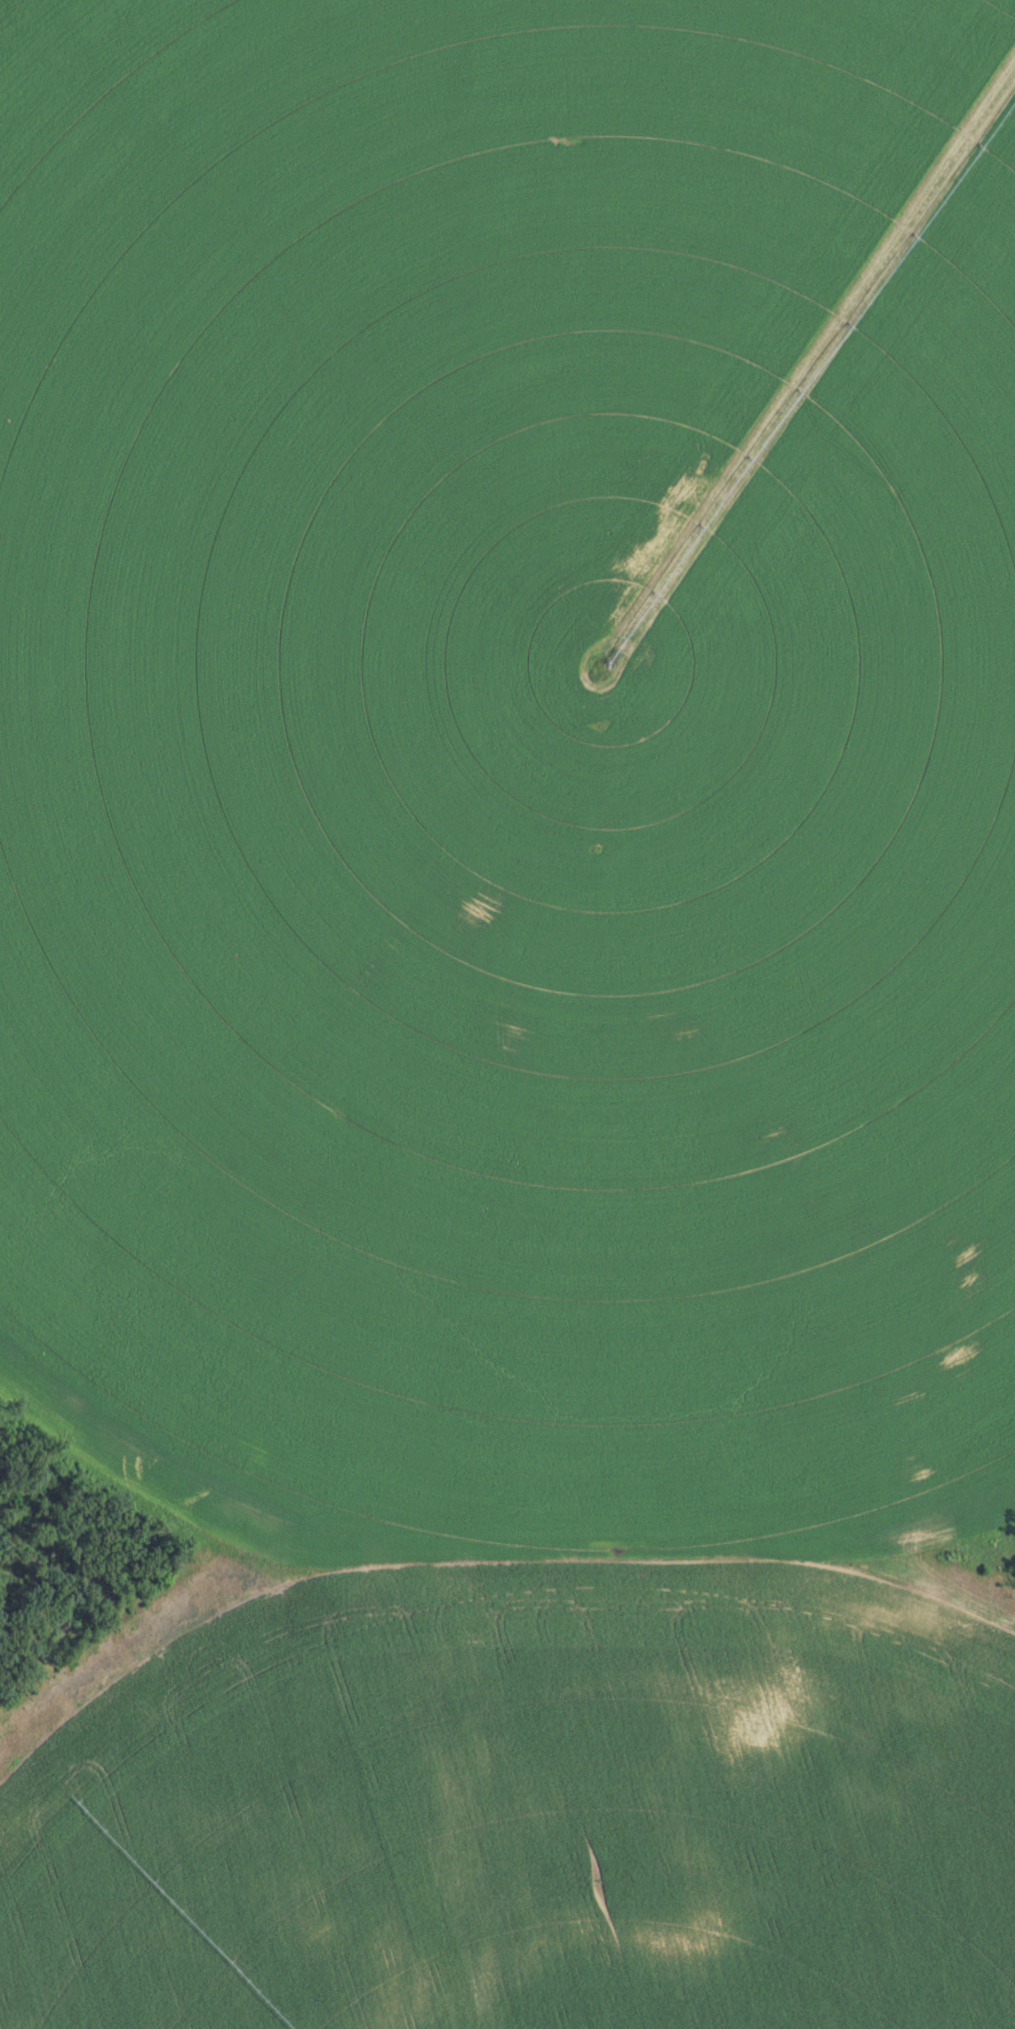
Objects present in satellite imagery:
wastewater plant: (507, 1014)

